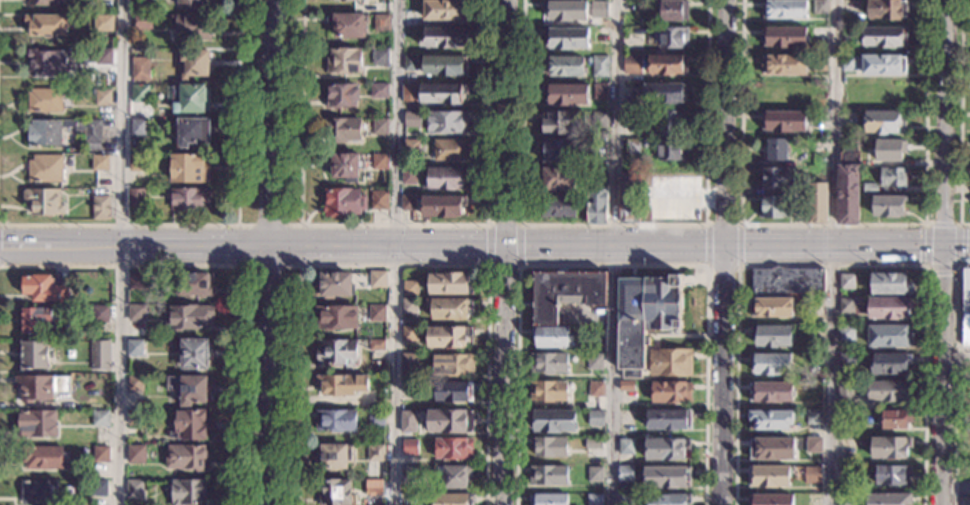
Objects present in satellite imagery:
building: (347, 0)
building: (44, 3)
building: (191, 4)
building: (820, 7)
building: (851, 7)
building: (598, 8)
building: (785, 9)
building: (445, 10)
building: (566, 10)
building: (672, 10)
building: (886, 10)
building: (410, 19)
building: (143, 21)
building: (103, 23)
building: (382, 23)
building: (46, 25)
building: (191, 25)
building: (348, 25)
building: (852, 34)
building: (884, 36)
building: (785, 37)
building: (445, 38)
building: (567, 38)
building: (671, 38)
building: (103, 57)
building: (380, 57)
building: (345, 61)
building: (47, 62)
building: (193, 63)
building: (818, 63)
building: (849, 63)
building: (410, 64)
building: (445, 65)
building: (632, 65)
building: (667, 65)
building: (784, 65)
building: (883, 65)
building: (565, 66)
building: (600, 66)
building: (140, 69)
building: (380, 91)
building: (600, 91)
building: (849, 92)
building: (409, 93)
building: (664, 93)
building: (887, 93)
building: (139, 94)
building: (441, 94)
building: (566, 94)
building: (342, 95)
building: (103, 98)
building: (190, 99)
building: (45, 100)
road: (960, 117)
building: (630, 118)
building: (600, 119)
building: (412, 120)
building: (784, 121)
building: (447, 122)
building: (562, 122)
building: (884, 122)
building: (671, 123)
building: (381, 126)
building: (138, 127)
building: (342, 130)
building: (192, 132)
building: (600, 134)
building: (44, 139)
building: (644, 143)
building: (412, 147)
building: (818, 147)
building: (633, 149)
building: (450, 150)
building: (559, 150)
building: (777, 150)
building: (672, 151)
building: (889, 151)
building: (381, 161)
building: (799, 162)
building: (100, 163)
building: (138, 163)
building: (347, 167)
building: (45, 169)
building: (189, 169)
building: (409, 177)
building: (893, 177)
building: (558, 178)
building: (777, 178)
building: (445, 179)
building: (849, 181)
building: (870, 188)
building: (137, 197)
building: (629, 198)
building: (191, 199)
building: (380, 200)
building: (344, 201)
building: (43, 202)
building: (409, 203)
building: (816, 203)
building: (597, 204)
building: (557, 206)
building: (888, 206)
building: (441, 207)
building: (777, 207)
building: (101, 208)
road: (927, 224)
road: (231, 225)
road: (238, 225)
road: (393, 225)
road: (503, 225)
road: (613, 225)
road: (722, 225)
road: (831, 225)
road: (484, 242)
road: (486, 245)
road: (519, 245)
road: (706, 245)
road: (738, 245)
traffic signals: (0, 248)
road: (122, 252)
road: (271, 252)
road: (397, 252)
road: (504, 252)
road: (612, 252)
road: (728, 252)
road: (833, 252)
road: (942, 252)
road: (237, 266)
road: (394, 266)
road: (502, 266)
road: (612, 266)
road: (722, 266)
road: (831, 266)
building: (378, 280)
building: (137, 281)
building: (786, 281)
building: (846, 282)
building: (450, 284)
building: (890, 284)
building: (194, 285)
building: (334, 285)
building: (410, 288)
building: (44, 289)
building: (565, 293)
building: (409, 306)
building: (852, 306)
building: (771, 307)
building: (889, 308)
building: (965, 308)
building: (449, 309)
building: (137, 313)
building: (99, 314)
building: (377, 314)
building: (336, 317)
building: (645, 317)
building: (188, 318)
building: (36, 319)
building: (409, 333)
building: (846, 333)
building: (771, 335)
building: (449, 336)
building: (890, 336)
building: (552, 337)
building: (377, 346)
building: (135, 348)
building: (337, 353)
building: (36, 354)
building: (100, 355)
building: (194, 355)
road: (955, 356)
building: (816, 359)
building: (846, 360)
building: (595, 361)
building: (670, 362)
building: (548, 363)
building: (890, 363)
building: (408, 364)
building: (772, 364)
building: (453, 365)
road: (955, 379)
building: (136, 384)
building: (341, 384)
building: (626, 386)
building: (42, 387)
building: (189, 389)
building: (596, 389)
building: (408, 390)
building: (548, 391)
building: (890, 391)
building: (453, 392)
building: (671, 392)
building: (770, 392)
building: (845, 392)
building: (813, 417)
building: (135, 418)
building: (377, 418)
building: (596, 418)
building: (100, 419)
building: (668, 419)
building: (895, 419)
building: (769, 420)
building: (336, 421)
building: (448, 421)
building: (552, 421)
building: (408, 422)
building: (37, 424)
building: (191, 426)
building: (813, 444)
building: (594, 446)
building: (626, 446)
building: (410, 447)
building: (453, 448)
building: (549, 448)
building: (771, 448)
building: (890, 448)
building: (665, 449)
building: (375, 453)
building: (101, 455)
building: (136, 455)
building: (335, 456)
building: (45, 458)
building: (187, 458)
building: (813, 473)
building: (408, 474)
building: (595, 474)
building: (626, 474)
building: (892, 475)
building: (454, 476)
building: (548, 476)
building: (768, 476)
building: (667, 477)
road: (955, 485)
building: (99, 488)
building: (135, 489)
building: (374, 489)
building: (190, 492)
building: (39, 493)
building: (337, 493)
building: (452, 499)
building: (548, 499)
building: (595, 499)
building: (626, 499)
building: (770, 499)
building: (889, 499)
building: (668, 500)
building: (845, 500)

